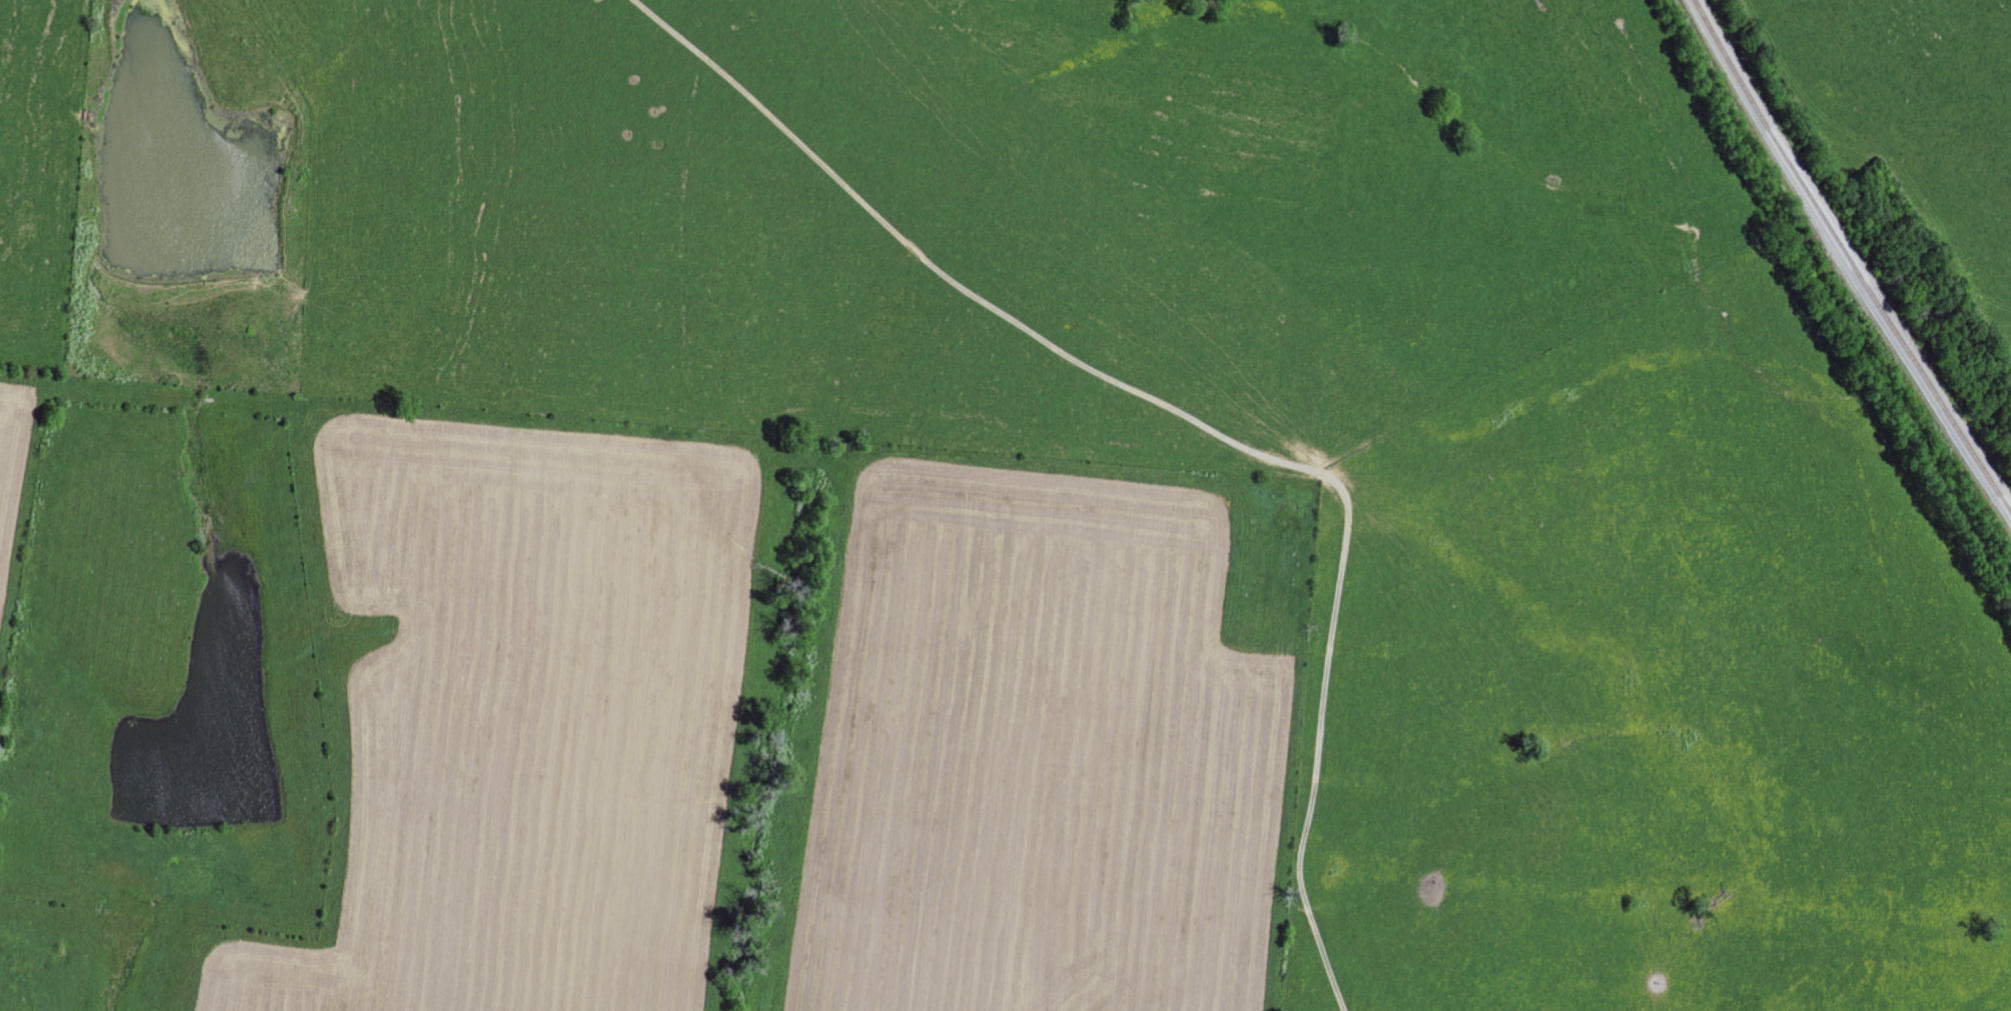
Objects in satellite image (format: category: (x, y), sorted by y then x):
railway: (1845, 264)

